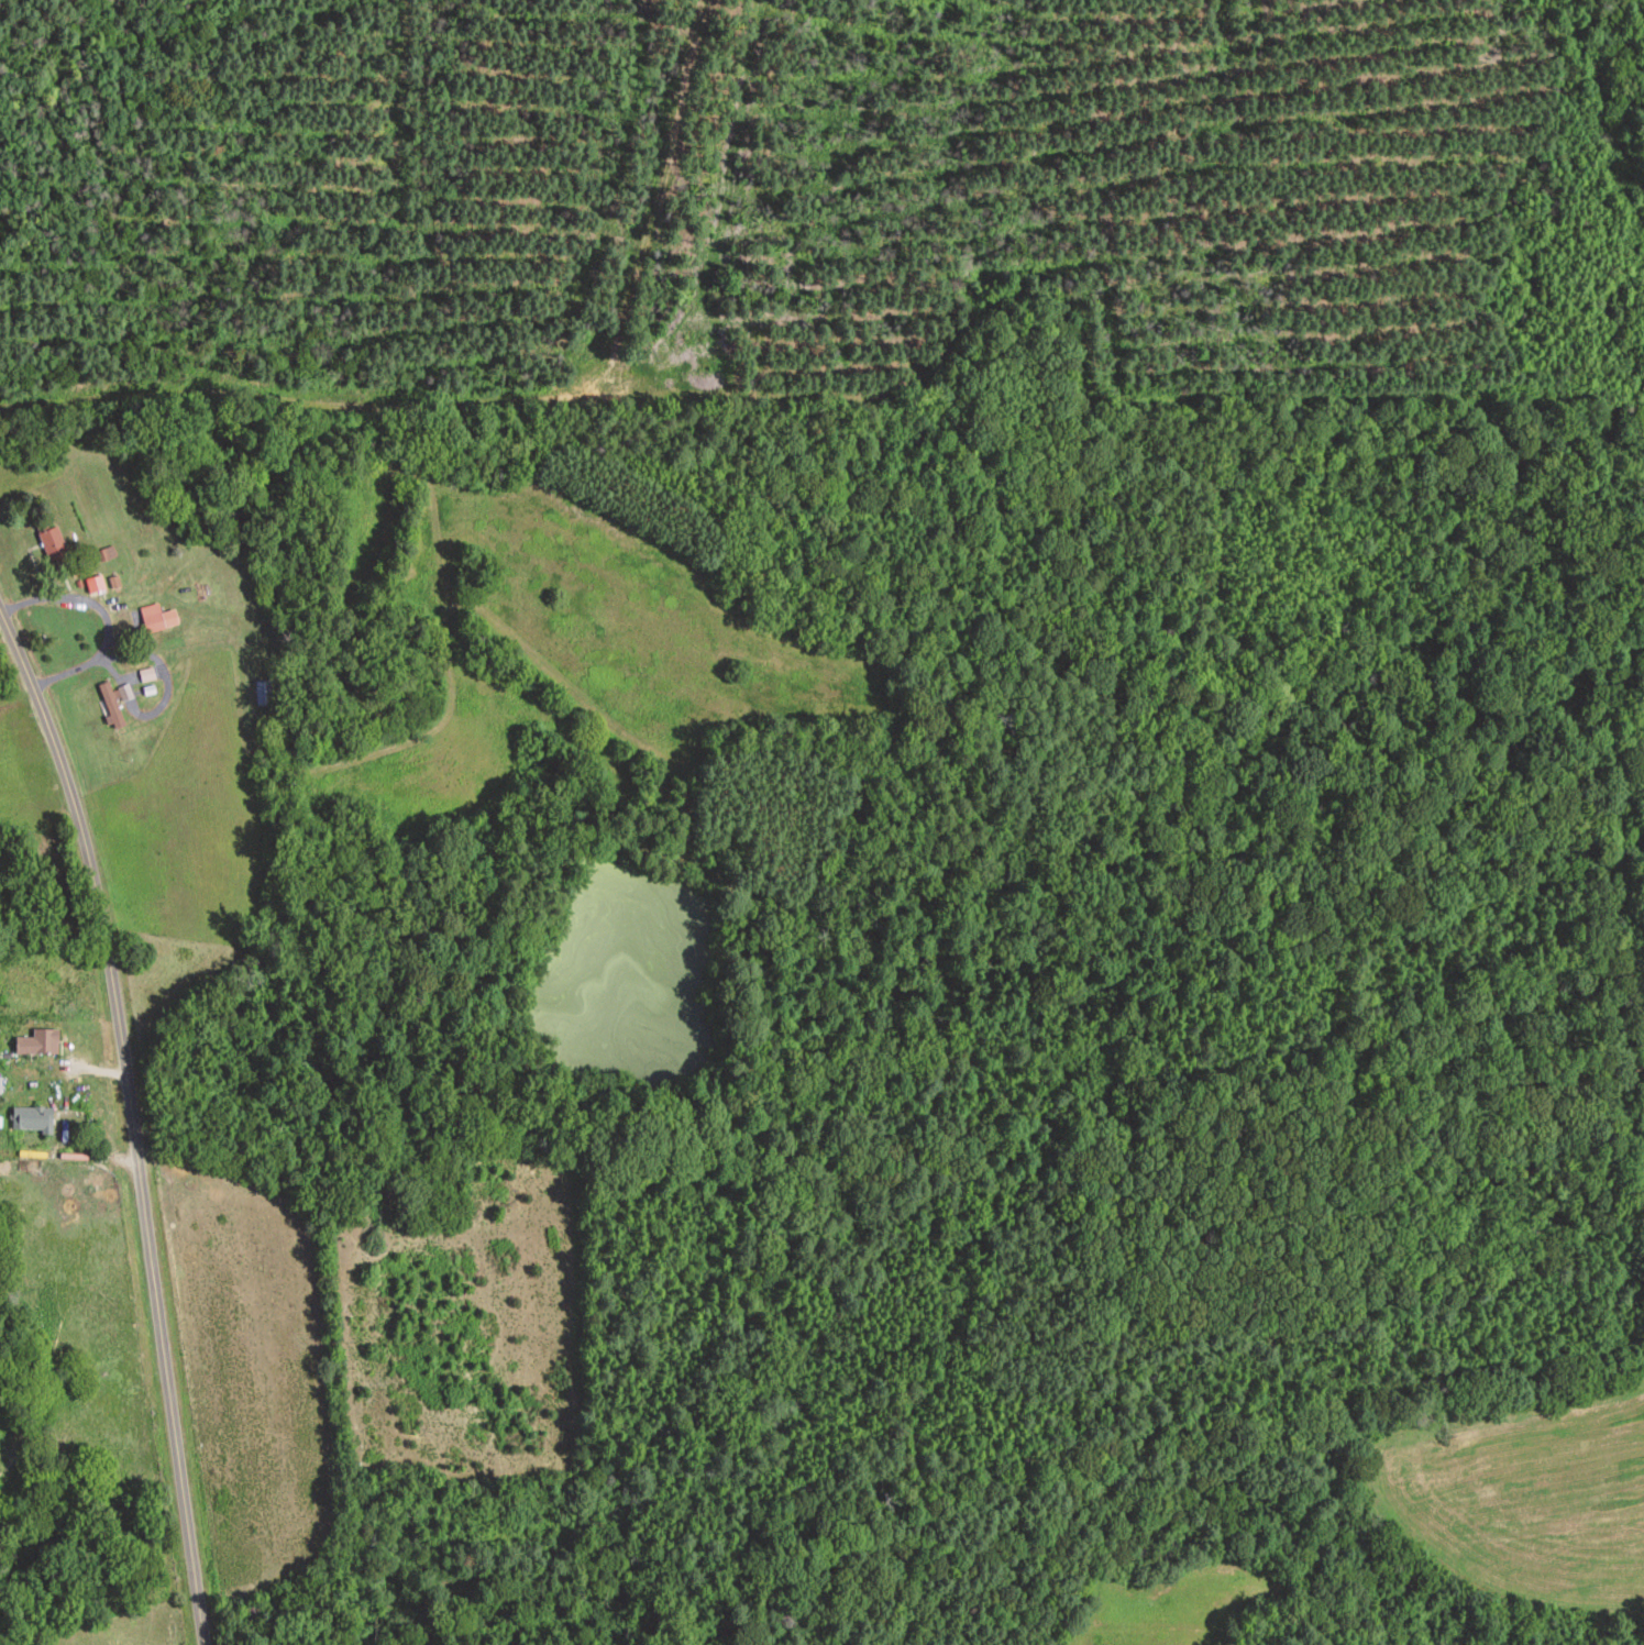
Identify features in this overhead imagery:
building: (52, 545)
building: (106, 554)
building: (95, 586)
building: (152, 618)
road: (163, 666)
building: (146, 676)
building: (263, 693)
building: (110, 704)
road: (52, 740)
building: (37, 1044)
building: (0, 1088)
building: (31, 1120)
road: (68, 1157)
road: (150, 1258)
building: (255, 1612)

